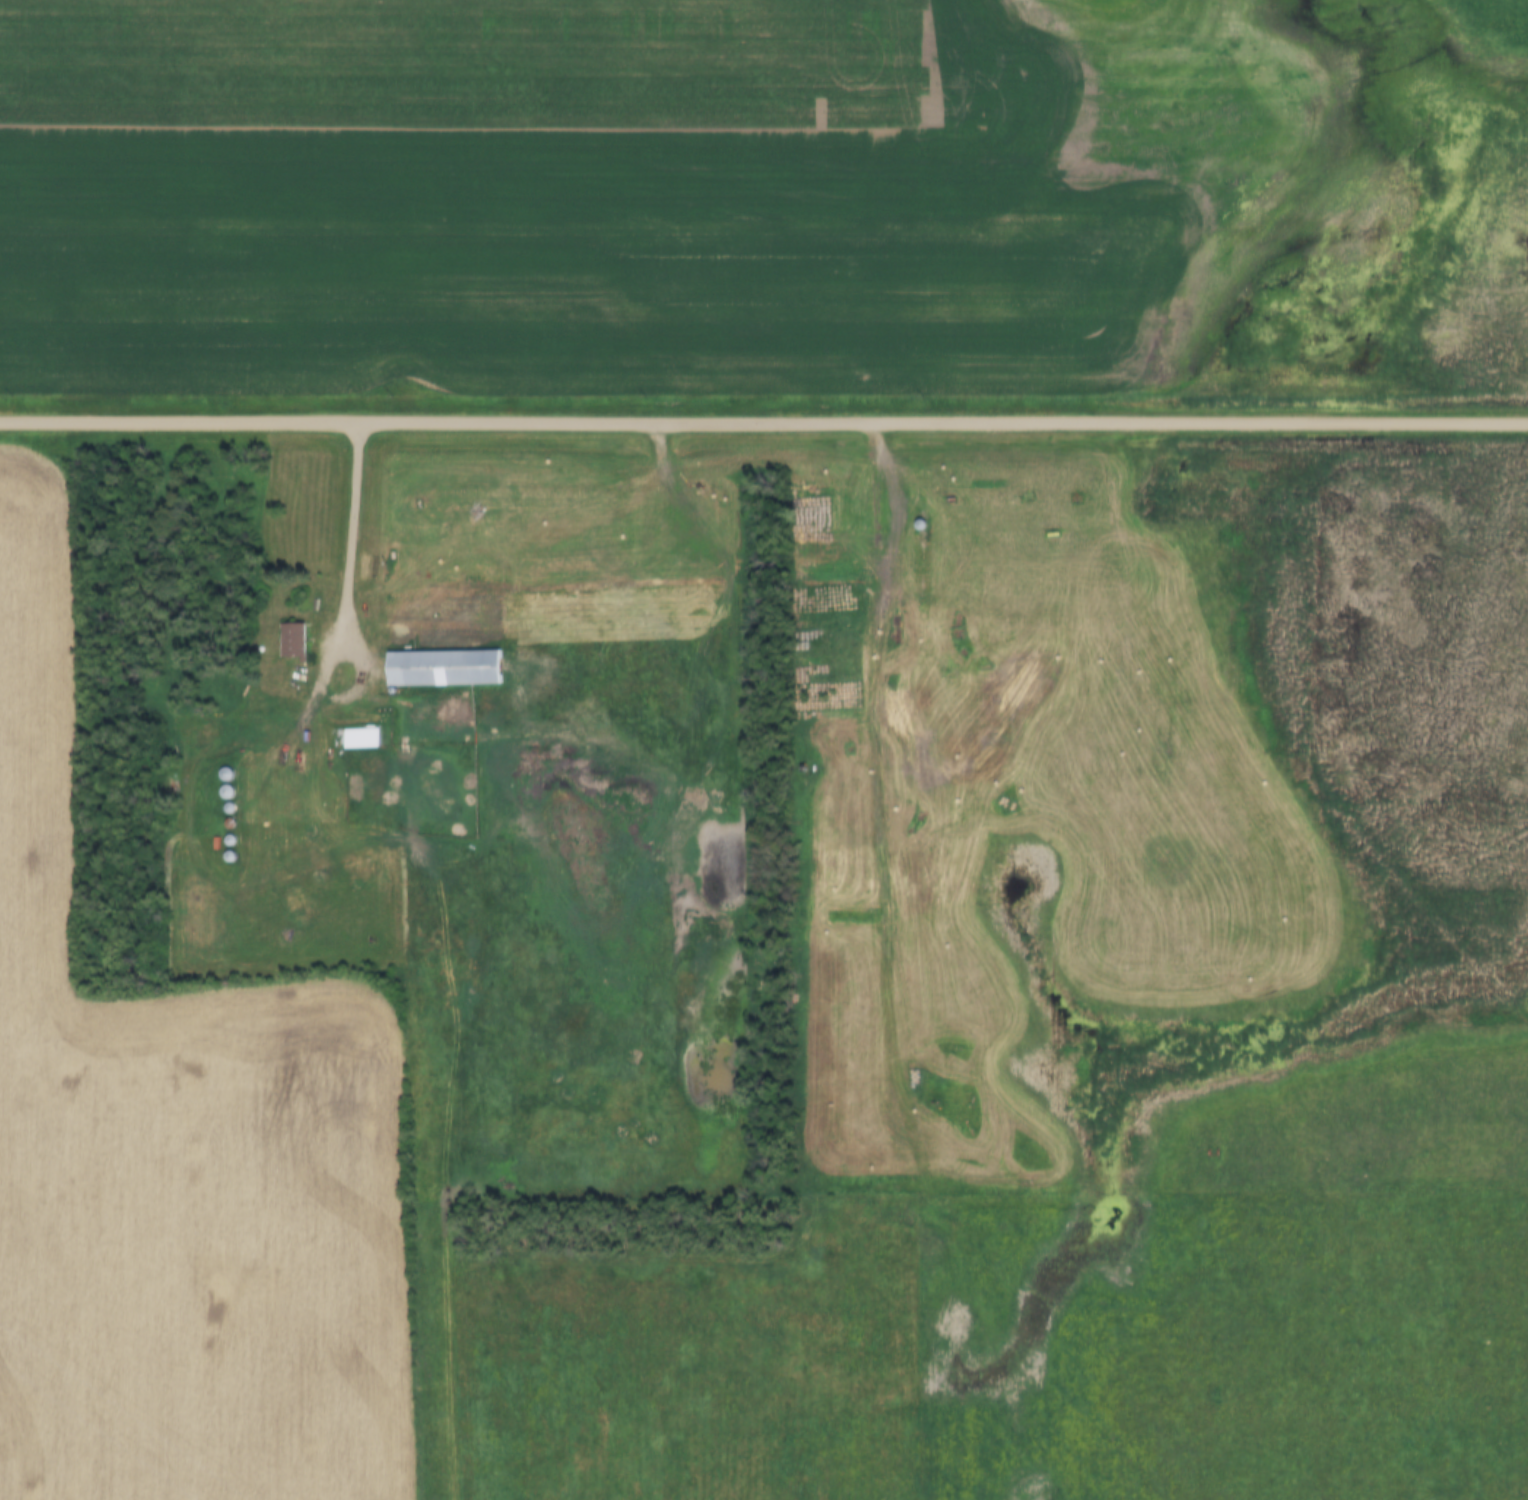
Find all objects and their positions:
road: (764, 420)
road: (865, 557)
road: (443, 559)
building: (296, 642)
building: (450, 670)
building: (364, 741)

